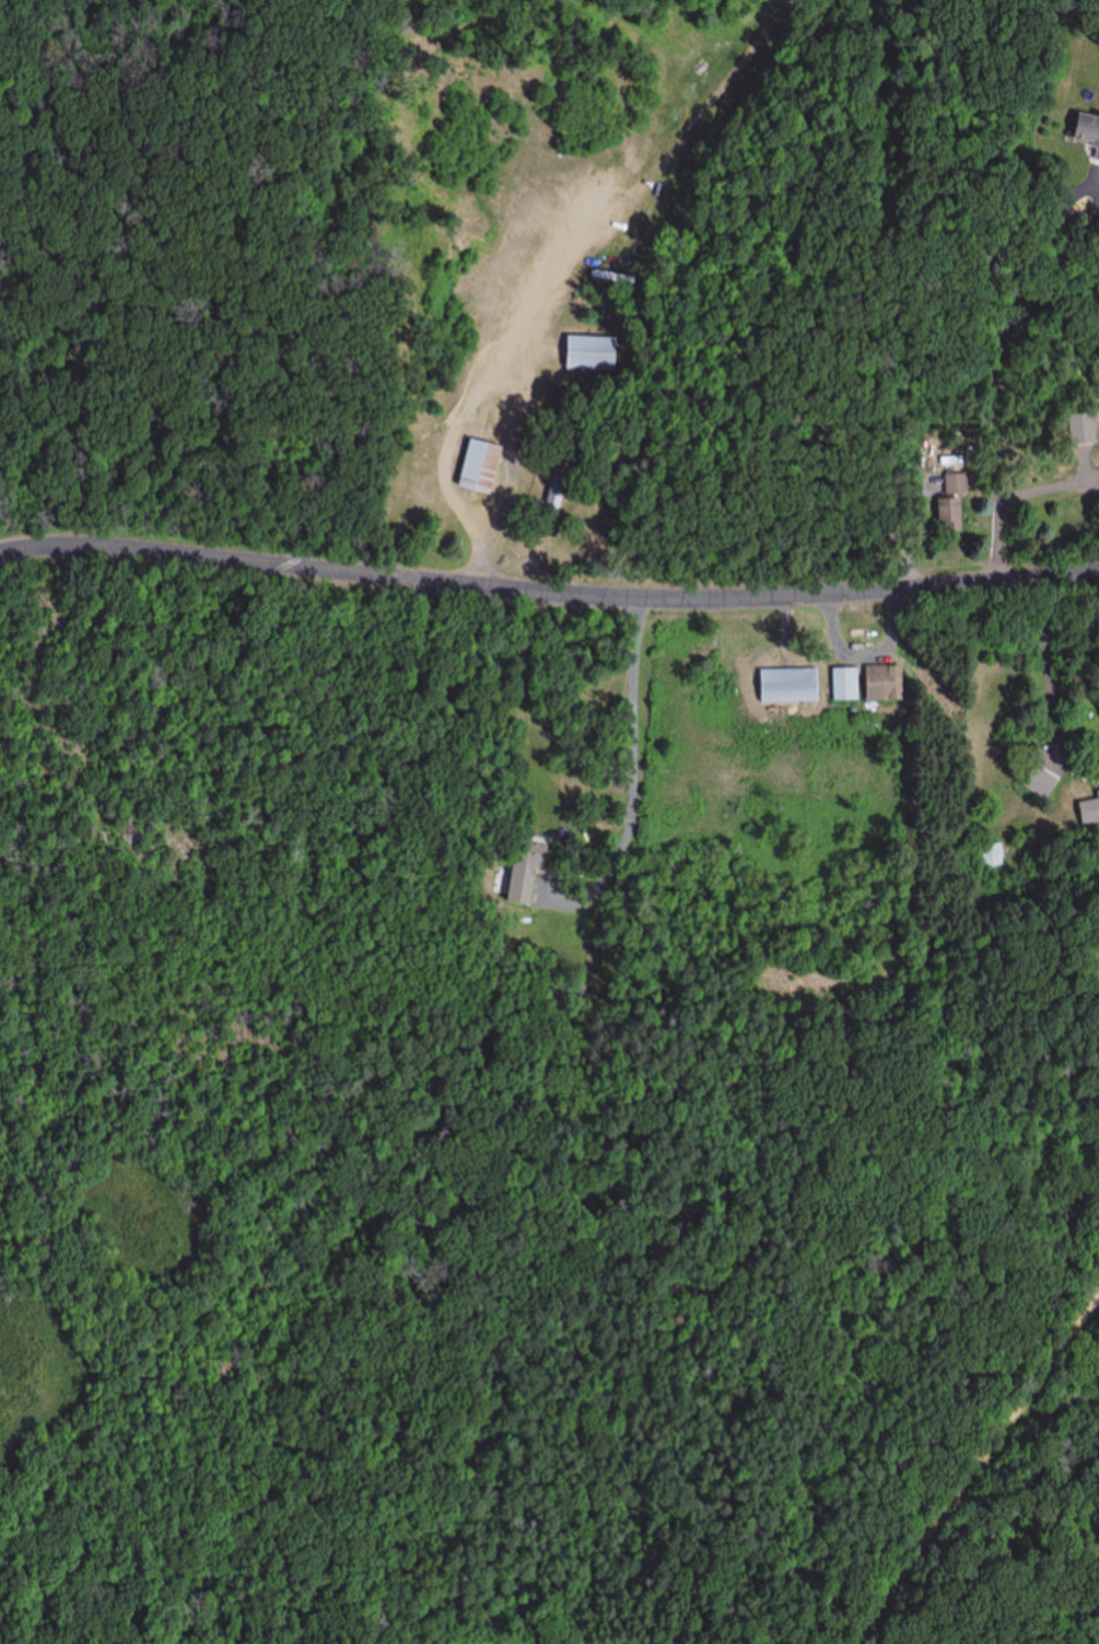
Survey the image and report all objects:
building: (1085, 135)
building: (621, 162)
building: (572, 191)
road: (276, 273)
building: (593, 354)
building: (1082, 430)
building: (476, 468)
building: (955, 485)
building: (945, 515)
road: (548, 586)
building: (842, 683)
building: (881, 683)
building: (785, 685)
building: (1037, 782)
building: (1088, 812)
building: (990, 855)
building: (524, 871)
road: (256, 872)
road: (124, 1039)
park: (155, 1093)
road: (315, 1234)
road: (975, 1470)
road: (1003, 1539)
road: (1047, 1593)

